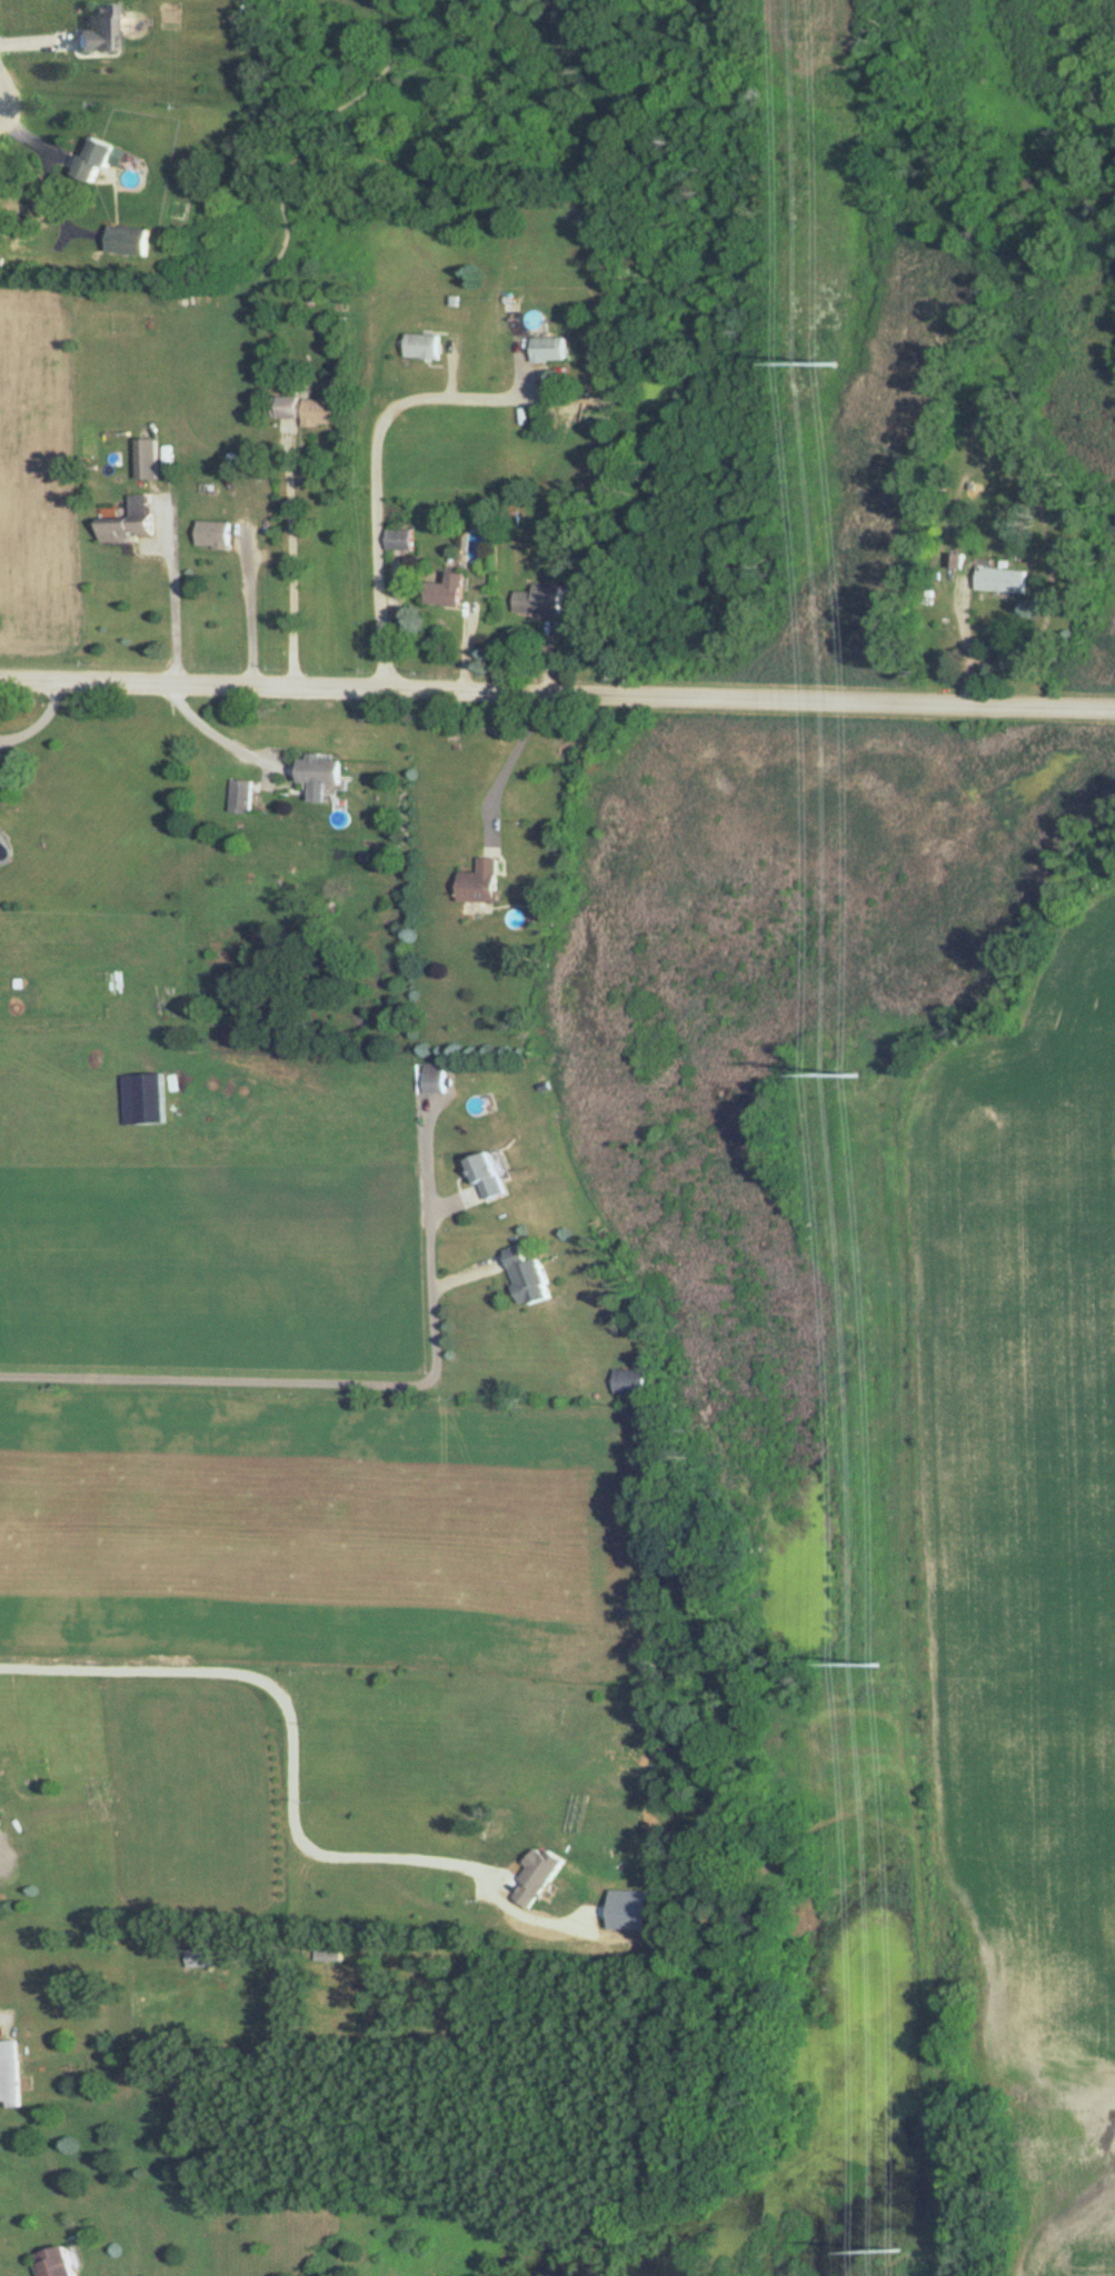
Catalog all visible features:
building: (102, 31)
road: (36, 138)
building: (107, 152)
building: (132, 241)
building: (422, 347)
building: (550, 350)
power tower: (829, 362)
building: (311, 410)
building: (149, 460)
road: (375, 485)
building: (133, 523)
building: (217, 536)
building: (397, 540)
road: (291, 558)
building: (948, 561)
building: (996, 580)
building: (451, 592)
building: (537, 600)
road: (175, 608)
road: (249, 610)
road: (963, 641)
road: (557, 692)
road: (43, 723)
road: (216, 740)
road: (515, 755)
building: (319, 776)
building: (235, 797)
building: (487, 884)
power tower: (857, 1076)
building: (439, 1078)
building: (169, 1082)
building: (496, 1177)
building: (532, 1276)
road: (349, 1380)
building: (630, 1384)
power tower: (877, 1665)
road: (290, 1721)
building: (0, 1825)
building: (328, 1956)
building: (199, 1959)
building: (10, 2076)
power tower: (894, 2250)

